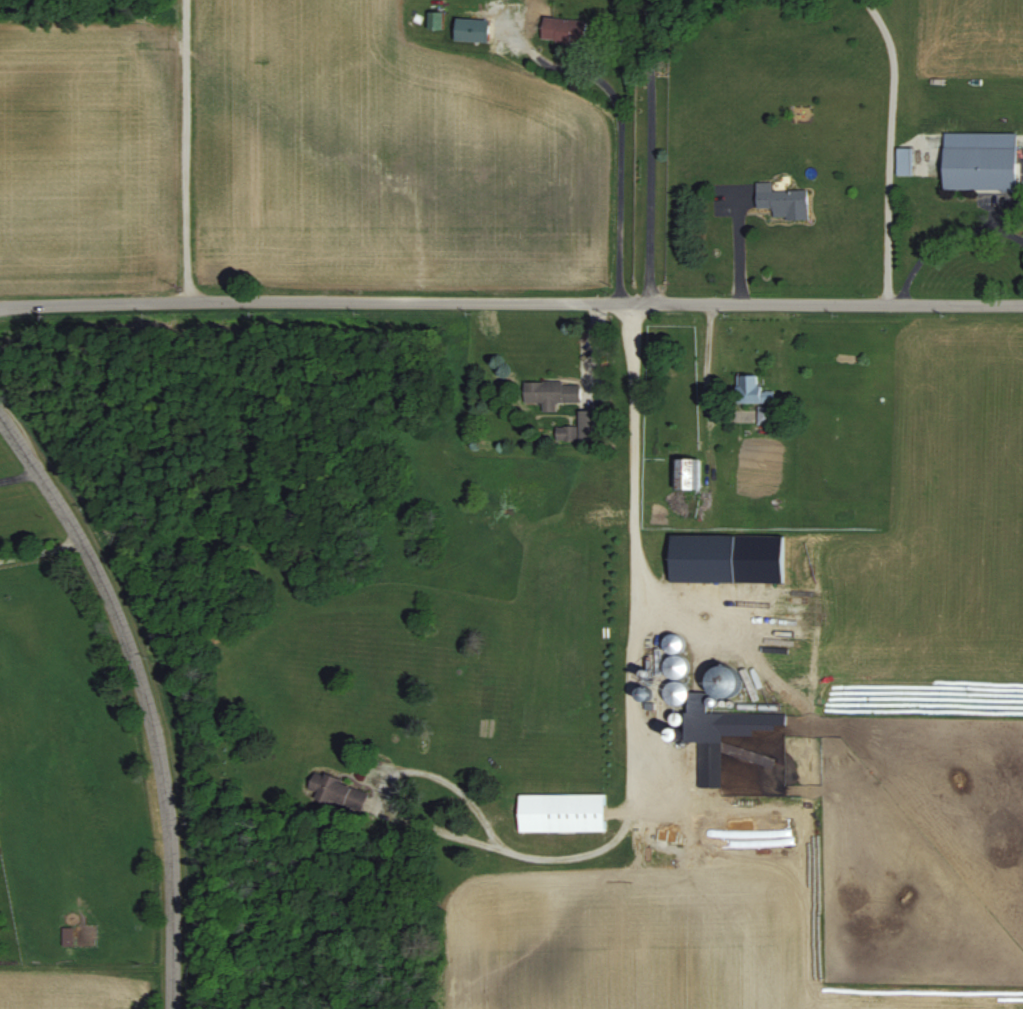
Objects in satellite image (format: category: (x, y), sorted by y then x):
building: (435, 15)
building: (564, 28)
building: (472, 29)
road: (621, 125)
road: (890, 149)
road: (185, 151)
road: (649, 151)
building: (905, 161)
building: (981, 161)
building: (784, 203)
road: (511, 302)
building: (752, 390)
building: (551, 393)
building: (590, 424)
building: (565, 433)
building: (688, 474)
road: (35, 548)
building: (727, 559)
building: (676, 655)
building: (726, 684)
building: (677, 693)
road: (139, 700)
building: (709, 742)
road: (634, 786)
building: (339, 793)
building: (563, 812)
building: (66, 936)

